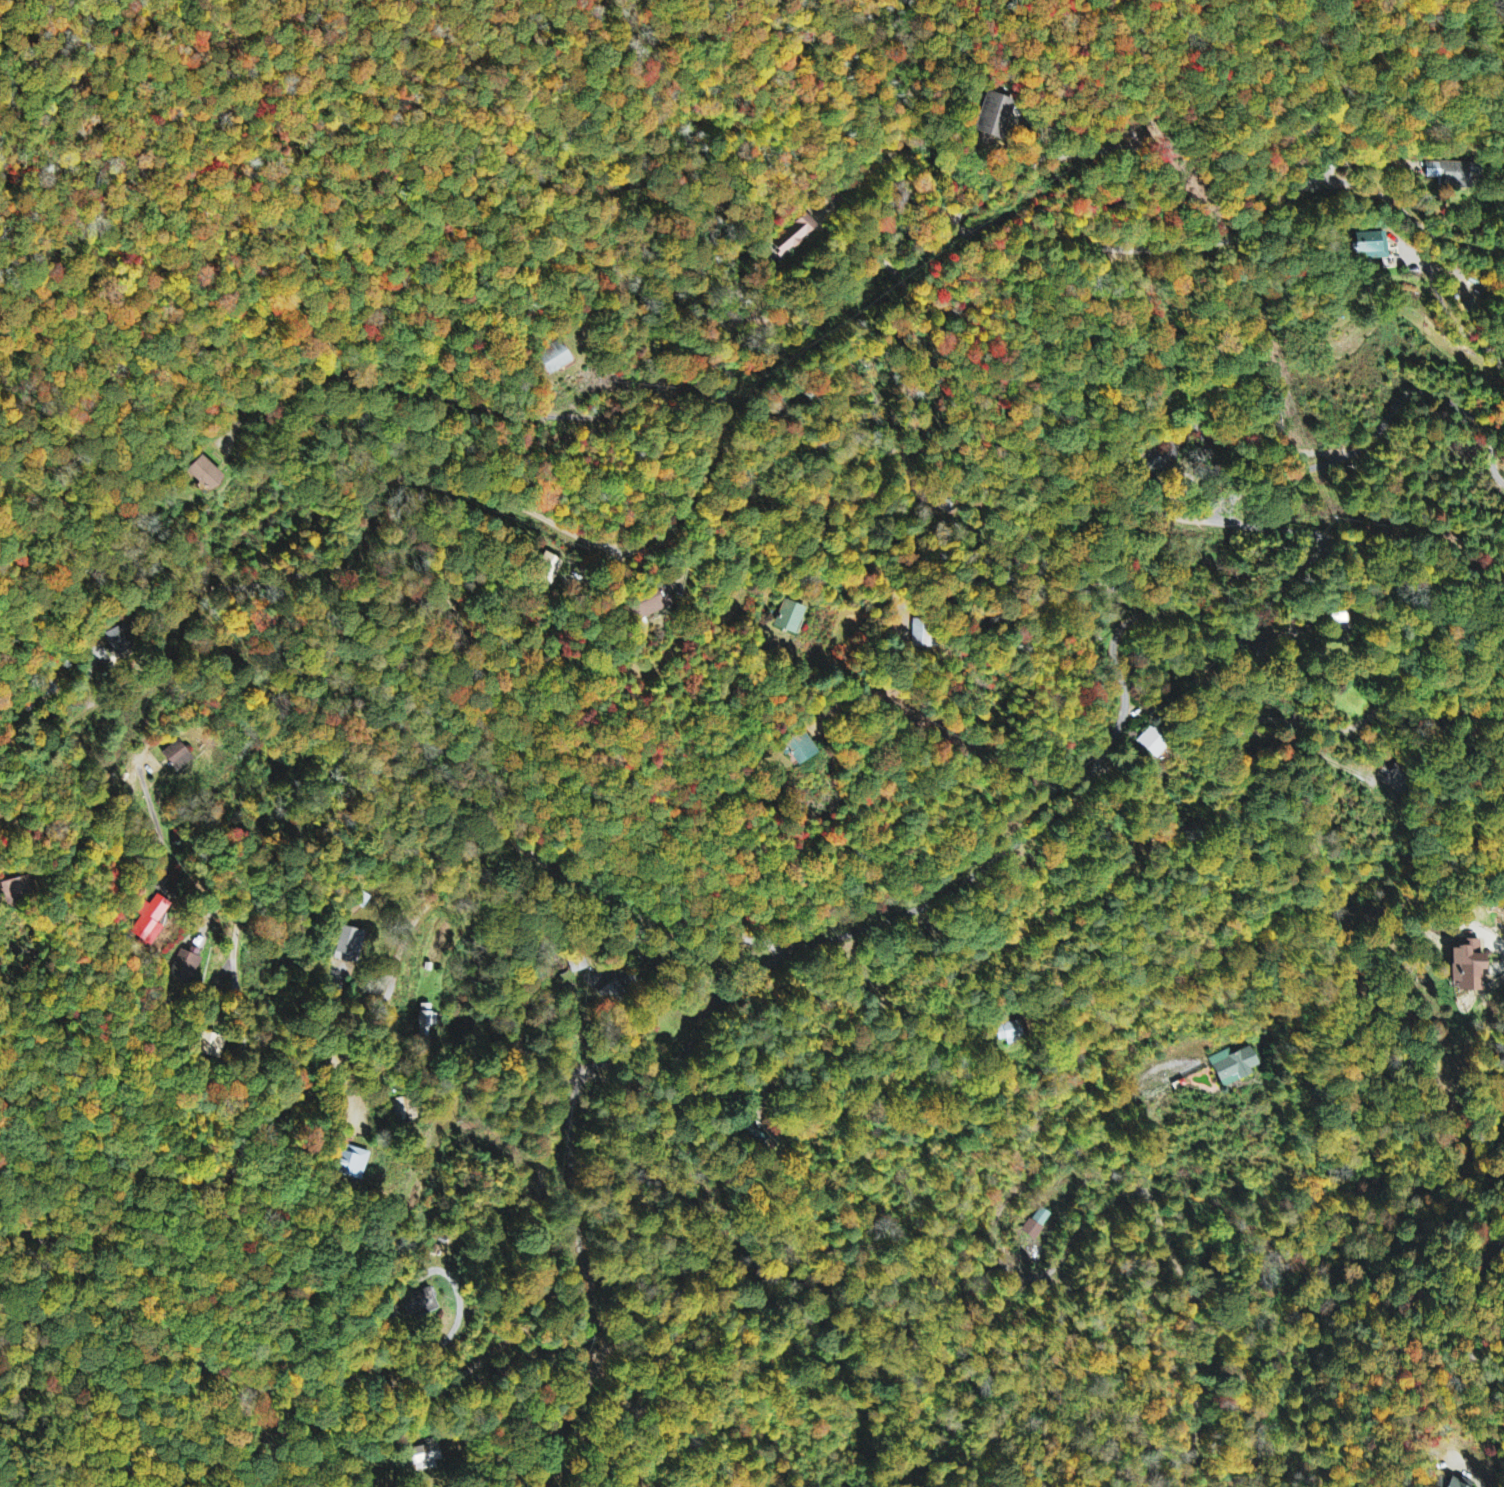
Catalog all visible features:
building: (998, 117)
road: (1061, 144)
building: (1457, 173)
road: (518, 225)
road: (578, 303)
road: (375, 402)
road: (669, 419)
road: (1367, 442)
building: (212, 477)
road: (1135, 494)
building: (792, 618)
road: (222, 681)
road: (1256, 721)
road: (1050, 818)
road: (453, 883)
road: (107, 924)
building: (1465, 964)
road: (893, 989)
road: (693, 1037)
building: (1236, 1066)
road: (241, 1144)
road: (596, 1288)
road: (1469, 1318)
road: (380, 1380)

